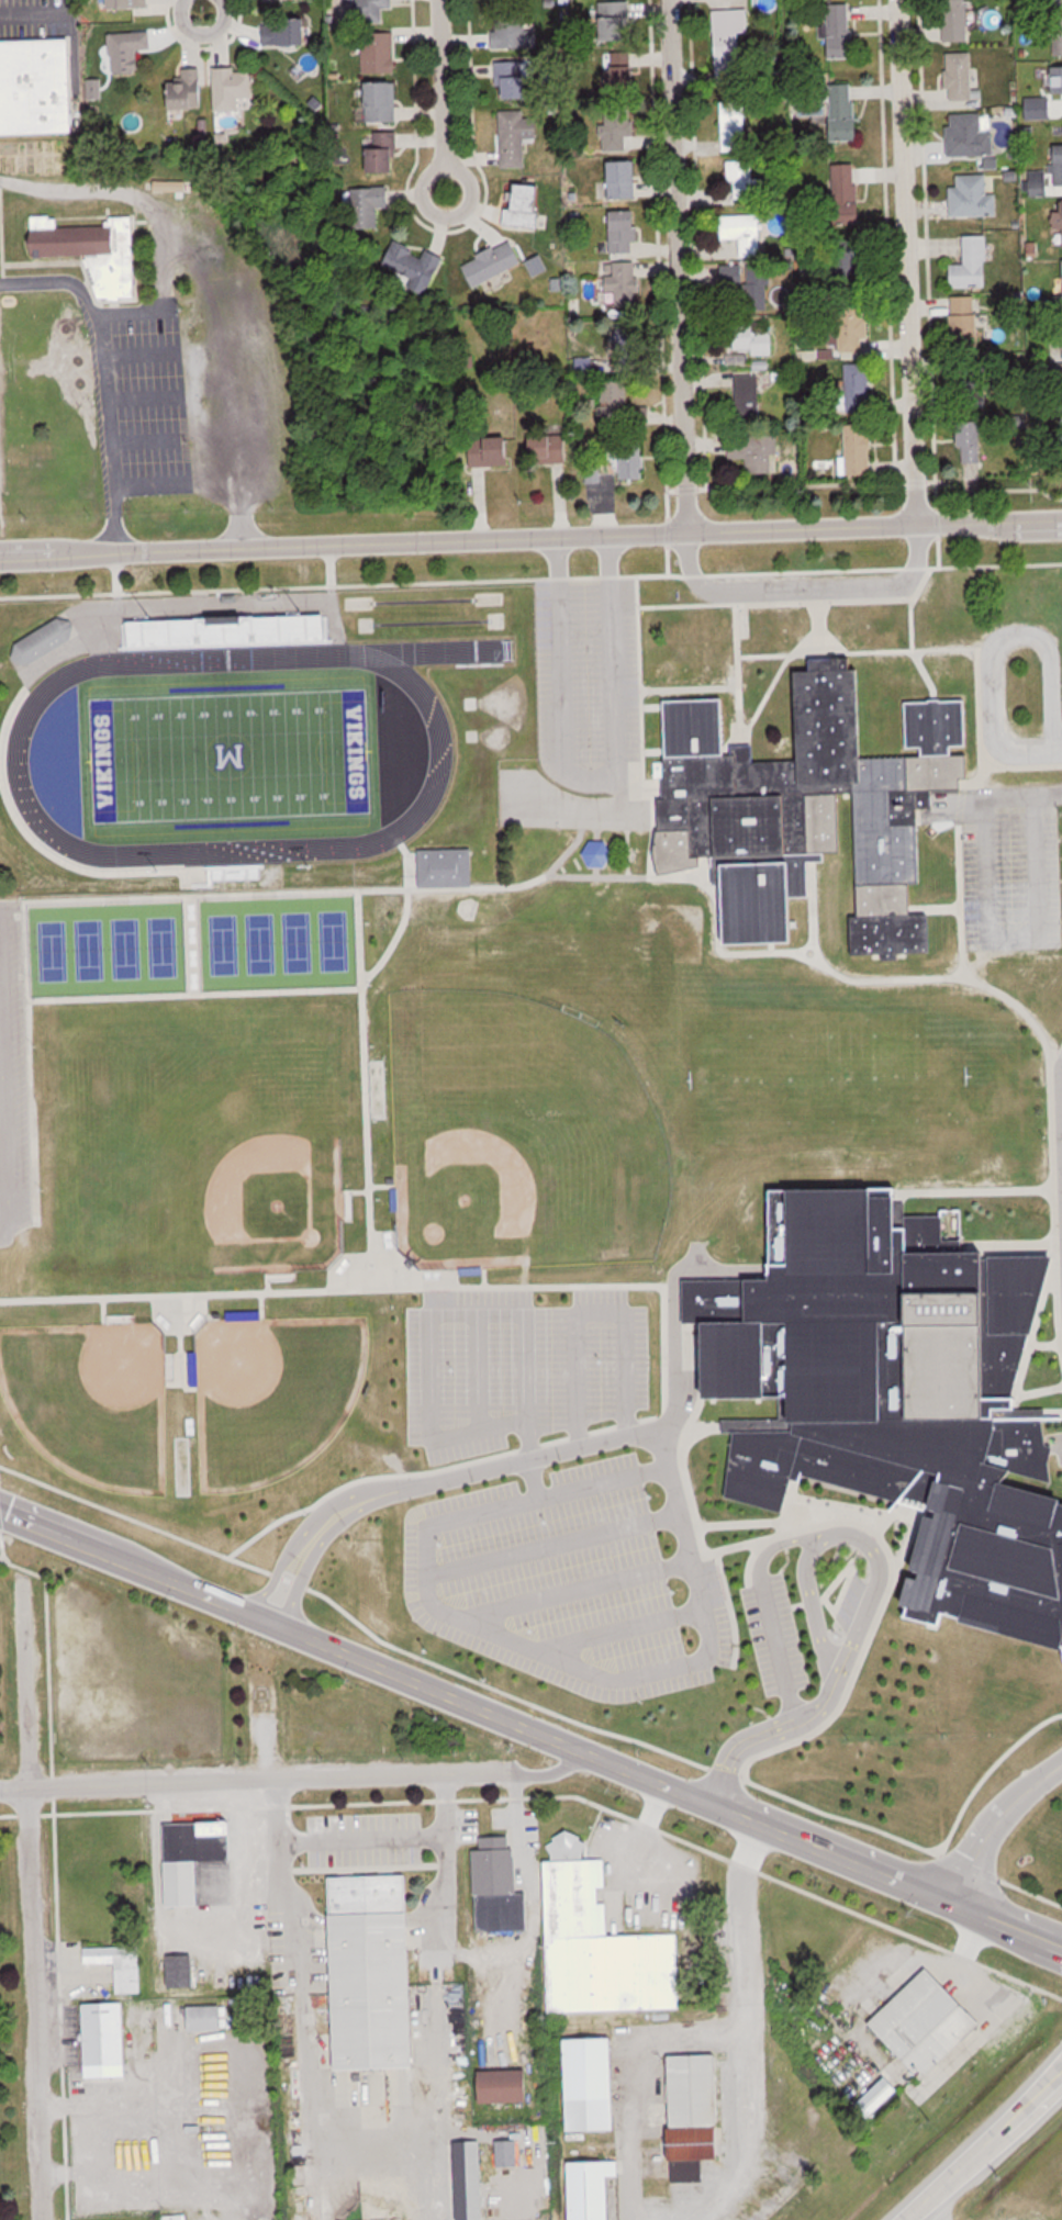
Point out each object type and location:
building: (1049, 0)
building: (130, 3)
building: (367, 10)
road: (40, 15)
building: (990, 16)
building: (614, 20)
building: (957, 20)
building: (733, 21)
building: (513, 29)
road: (202, 31)
building: (841, 31)
building: (284, 33)
building: (1058, 42)
building: (127, 51)
building: (379, 53)
building: (619, 67)
building: (961, 76)
building: (513, 80)
building: (36, 86)
building: (189, 88)
building: (234, 88)
building: (1046, 94)
building: (382, 101)
building: (843, 111)
road: (435, 112)
building: (734, 125)
building: (618, 132)
building: (969, 134)
building: (516, 136)
building: (383, 152)
building: (1055, 169)
building: (623, 179)
building: (742, 179)
building: (846, 193)
building: (972, 197)
building: (368, 205)
building: (525, 206)
building: (624, 232)
building: (746, 233)
building: (93, 250)
road: (897, 262)
building: (493, 264)
building: (972, 265)
building: (415, 266)
road: (668, 266)
building: (747, 281)
building: (1060, 283)
building: (623, 284)
building: (850, 317)
building: (965, 321)
building: (753, 341)
building: (628, 344)
road: (101, 380)
building: (858, 388)
building: (748, 395)
building: (614, 403)
building: (1061, 435)
building: (548, 450)
building: (859, 450)
building: (491, 452)
building: (754, 452)
building: (631, 460)
road: (530, 536)
road: (803, 587)
building: (228, 632)
road: (999, 639)
building: (45, 642)
stadium: (245, 747)
road: (1058, 751)
road: (592, 777)
road: (1049, 793)
building: (809, 807)
road: (994, 928)
road: (8, 1112)
road: (439, 1309)
road: (596, 1312)
road: (674, 1326)
building: (895, 1400)
road: (537, 1477)
road: (371, 1491)
road: (842, 1534)
road: (772, 1545)
road: (780, 1652)
road: (657, 1670)
park: (132, 1680)
park: (132, 1681)
park: (175, 1691)
park: (331, 1726)
road: (529, 1734)
road: (769, 1735)
road: (290, 1780)
road: (994, 1825)
road: (367, 1841)
building: (192, 1855)
building: (499, 1886)
road: (32, 1897)
road: (746, 1926)
building: (602, 1949)
building: (120, 1964)
building: (180, 1970)
building: (372, 1971)
building: (208, 2018)
building: (928, 2023)
building: (105, 2033)
road: (633, 2077)
building: (591, 2084)
building: (505, 2086)
building: (880, 2096)
building: (694, 2115)
road: (748, 2137)
road: (981, 2144)
building: (508, 2153)
building: (469, 2180)
building: (593, 2189)
road: (909, 2217)

